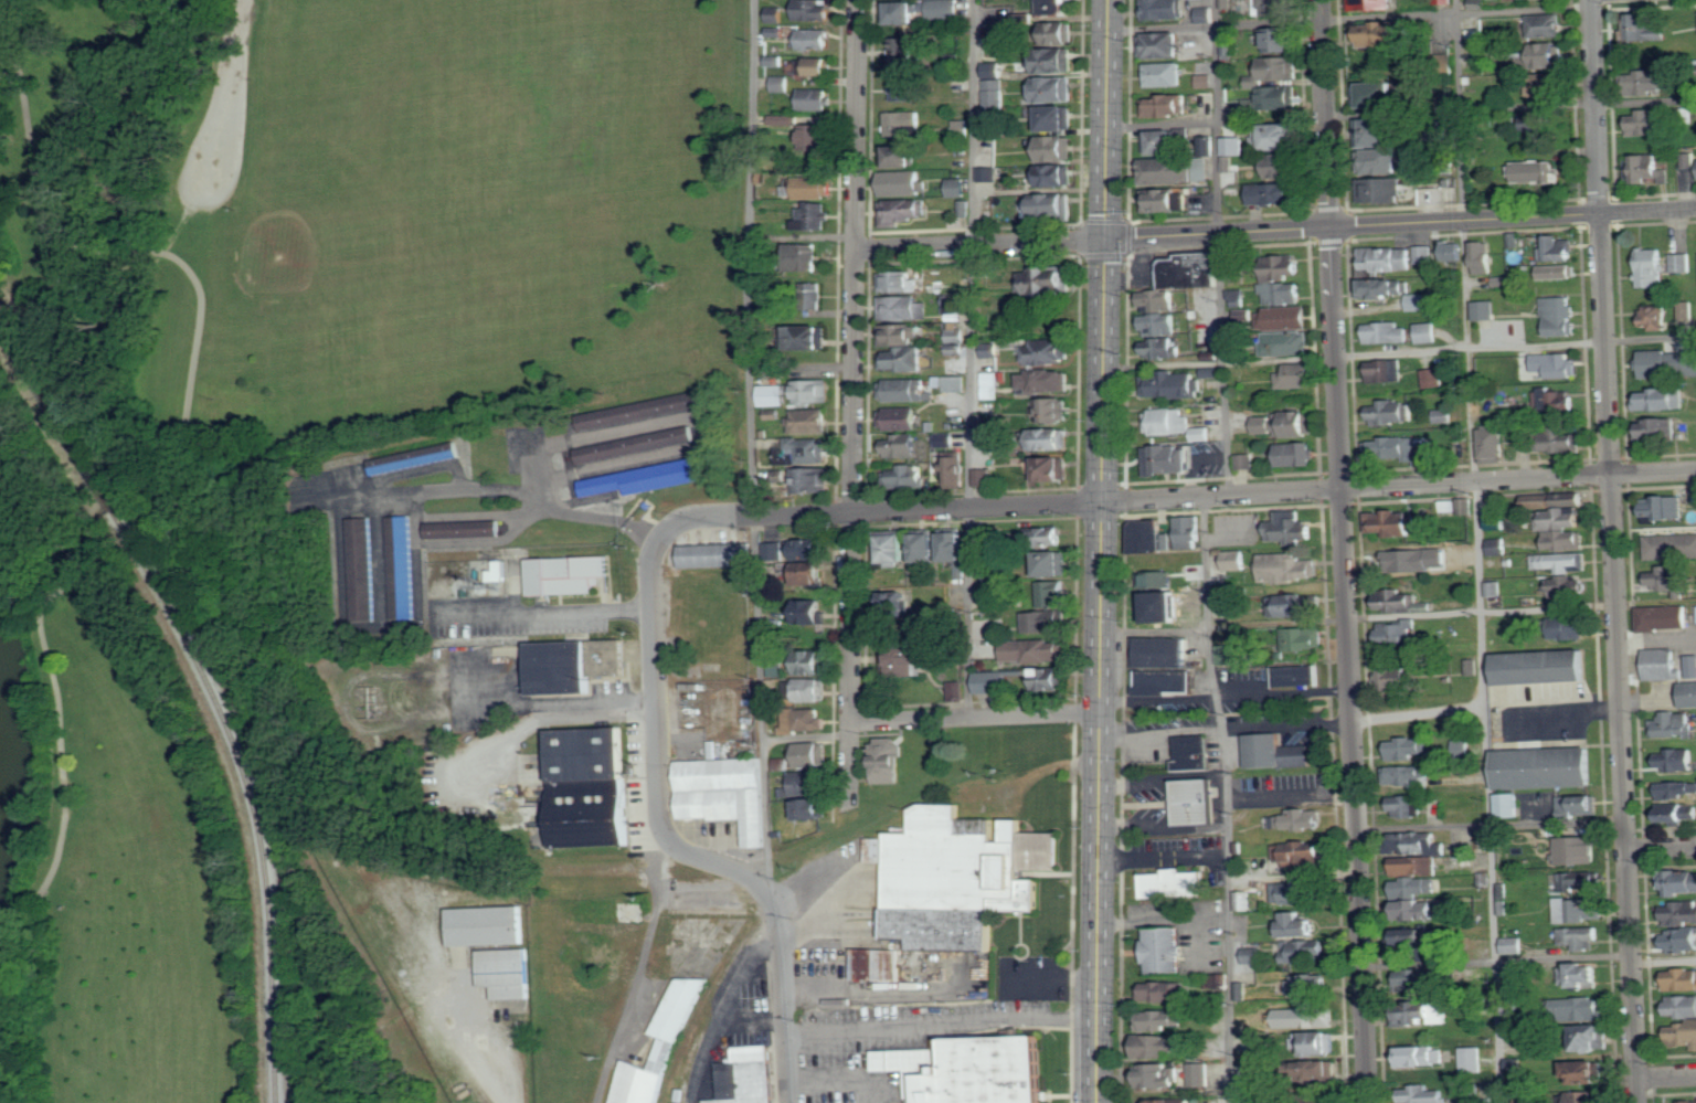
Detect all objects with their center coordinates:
building: (1371, 4)
building: (1051, 7)
building: (1278, 7)
building: (943, 9)
building: (1165, 9)
building: (814, 10)
building: (901, 12)
building: (775, 14)
building: (1206, 14)
road: (1349, 17)
building: (1547, 25)
building: (1647, 28)
building: (1003, 32)
building: (1061, 33)
building: (1384, 33)
building: (815, 40)
building: (1279, 40)
building: (1160, 45)
building: (904, 51)
building: (1548, 55)
building: (1057, 61)
building: (818, 66)
building: (1275, 70)
building: (994, 71)
building: (1165, 75)
building: (1205, 81)
building: (781, 84)
building: (1547, 85)
building: (905, 88)
building: (1056, 89)
building: (995, 94)
building: (1375, 95)
building: (1281, 97)
building: (814, 99)
road: (233, 105)
building: (1166, 106)
road: (1510, 106)
road: (1325, 113)
building: (1056, 118)
road: (974, 121)
building: (1529, 121)
building: (901, 123)
building: (1646, 123)
road: (1162, 124)
building: (960, 128)
building: (1376, 132)
building: (1275, 136)
building: (815, 137)
building: (1162, 142)
building: (1057, 148)
building: (903, 156)
building: (1690, 160)
building: (1381, 161)
building: (1227, 163)
building: (1284, 166)
building: (1174, 171)
building: (1538, 171)
building: (988, 174)
building: (1057, 174)
building: (904, 183)
building: (815, 188)
building: (957, 188)
building: (1381, 190)
building: (1273, 193)
building: (1047, 206)
building: (902, 211)
building: (815, 215)
road: (1400, 222)
traffic signals: (1105, 238)
road: (979, 243)
road: (1218, 247)
building: (1558, 251)
building: (1453, 252)
building: (1424, 254)
building: (804, 257)
building: (1484, 257)
building: (1387, 258)
building: (1681, 263)
road: (185, 266)
building: (1281, 267)
building: (1651, 267)
building: (1192, 271)
building: (1558, 272)
building: (903, 280)
building: (1045, 282)
building: (1385, 288)
building: (1282, 294)
building: (810, 296)
building: (1159, 300)
building: (1417, 303)
building: (903, 308)
building: (1687, 309)
building: (1486, 310)
building: (1561, 316)
building: (1244, 317)
building: (1654, 317)
building: (1284, 318)
building: (1160, 325)
building: (1428, 332)
building: (1386, 333)
building: (899, 335)
building: (807, 337)
building: (954, 338)
building: (1290, 343)
building: (1163, 348)
building: (990, 350)
road: (1399, 351)
building: (1049, 352)
building: (904, 359)
building: (1690, 360)
building: (1557, 364)
building: (1661, 364)
building: (1386, 371)
building: (1296, 375)
building: (1432, 379)
building: (1047, 381)
building: (954, 384)
building: (1176, 384)
building: (990, 385)
building: (905, 390)
building: (794, 393)
park: (284, 394)
building: (1662, 400)
building: (1554, 401)
road: (854, 403)
building: (639, 410)
building: (1053, 411)
building: (1389, 413)
building: (1442, 416)
building: (900, 418)
building: (809, 421)
building: (1175, 424)
building: (1294, 424)
building: (1262, 425)
building: (1661, 429)
building: (1566, 438)
building: (946, 439)
building: (988, 439)
building: (1054, 439)
building: (633, 444)
building: (1493, 445)
building: (903, 446)
road: (752, 447)
building: (1396, 450)
building: (805, 452)
building: (1297, 455)
building: (412, 458)
building: (1167, 459)
building: (1245, 462)
building: (1050, 469)
building: (955, 470)
railway: (104, 475)
building: (646, 477)
building: (905, 477)
building: (982, 478)
building: (813, 480)
road: (968, 480)
road: (521, 488)
road: (1186, 497)
building: (1450, 507)
building: (1665, 509)
building: (1559, 510)
building: (1391, 523)
building: (460, 529)
building: (1291, 529)
building: (1189, 533)
building: (1050, 537)
building: (1148, 538)
building: (1567, 540)
building: (985, 542)
building: (1671, 547)
building: (1498, 548)
building: (926, 549)
building: (809, 550)
building: (895, 550)
building: (774, 551)
building: (956, 551)
road: (1101, 551)
road: (1476, 551)
road: (1614, 551)
building: (710, 554)
building: (1236, 560)
building: (1561, 562)
building: (1053, 564)
building: (400, 566)
building: (359, 568)
building: (1289, 569)
building: (812, 573)
building: (562, 574)
building: (992, 576)
building: (1156, 581)
building: (1672, 581)
building: (1566, 587)
building: (1494, 593)
building: (1053, 594)
building: (1402, 602)
road: (1656, 602)
building: (899, 605)
building: (1295, 606)
road: (548, 613)
building: (812, 613)
road: (1358, 618)
building: (1664, 618)
building: (1045, 622)
building: (1575, 628)
building: (1398, 634)
building: (1303, 639)
building: (1035, 651)
building: (1226, 655)
building: (907, 660)
building: (813, 664)
road: (1347, 665)
building: (1663, 665)
building: (1159, 667)
building: (558, 668)
building: (1543, 668)
building: (1295, 676)
building: (1396, 678)
building: (1048, 680)
building: (990, 682)
building: (813, 690)
building: (957, 691)
road: (1223, 696)
building: (1690, 696)
road: (570, 700)
road: (571, 713)
road: (974, 715)
building: (803, 721)
road: (1291, 723)
building: (1674, 725)
road: (806, 736)
building: (1408, 749)
building: (1463, 749)
road: (63, 750)
building: (1191, 753)
building: (1274, 753)
building: (809, 755)
building: (1678, 760)
building: (889, 761)
building: (781, 764)
building: (1548, 768)
river: (8, 775)
building: (1409, 776)
road: (1163, 779)
building: (806, 783)
building: (585, 786)
building: (1677, 791)
building: (724, 794)
road: (1291, 797)
road: (1229, 798)
building: (1192, 802)
building: (1508, 806)
building: (1579, 806)
building: (1408, 807)
building: (810, 810)
building: (1677, 813)
building: (1297, 820)
road: (1490, 824)
road: (1163, 829)
road: (669, 839)
building: (1419, 844)
road: (1662, 848)
building: (1301, 851)
building: (1579, 851)
road: (1164, 858)
building: (1417, 865)
railway: (271, 873)
building: (953, 876)
building: (1577, 879)
building: (1679, 881)
building: (1172, 884)
building: (1417, 885)
building: (1297, 891)
building: (1243, 900)
building: (1419, 909)
building: (1580, 909)
building: (1681, 912)
building: (866, 914)
road: (1173, 922)
building: (1300, 923)
building: (484, 926)
building: (1581, 936)
building: (1682, 938)
building: (1420, 940)
building: (1513, 945)
building: (1302, 950)
building: (1160, 951)
building: (1253, 955)
road: (1495, 958)
road: (1664, 961)
building: (873, 964)
road: (640, 969)
building: (502, 972)
building: (1582, 974)
building: (1418, 977)
building: (1682, 978)
building: (1217, 980)
building: (1304, 985)
building: (1162, 990)
road: (451, 996)
building: (1683, 1005)
road: (720, 1006)
building: (1582, 1008)
building: (1422, 1012)
building: (1307, 1016)
building: (1158, 1019)
road: (942, 1025)
building: (1683, 1032)
building: (1592, 1036)
building: (1321, 1041)
building: (1156, 1044)
building: (658, 1052)
building: (1420, 1054)
building: (1472, 1059)
building: (1516, 1064)
building: (1319, 1069)
building: (966, 1070)
building: (1588, 1070)
building: (1158, 1074)
building: (1199, 1074)
building: (748, 1075)
road: (1666, 1075)
building: (1423, 1094)
building: (1590, 1096)
building: (1322, 1099)
building: (1529, 1099)
building: (1174, 1100)
building: (1688, 1100)
building: (1283, 1101)

